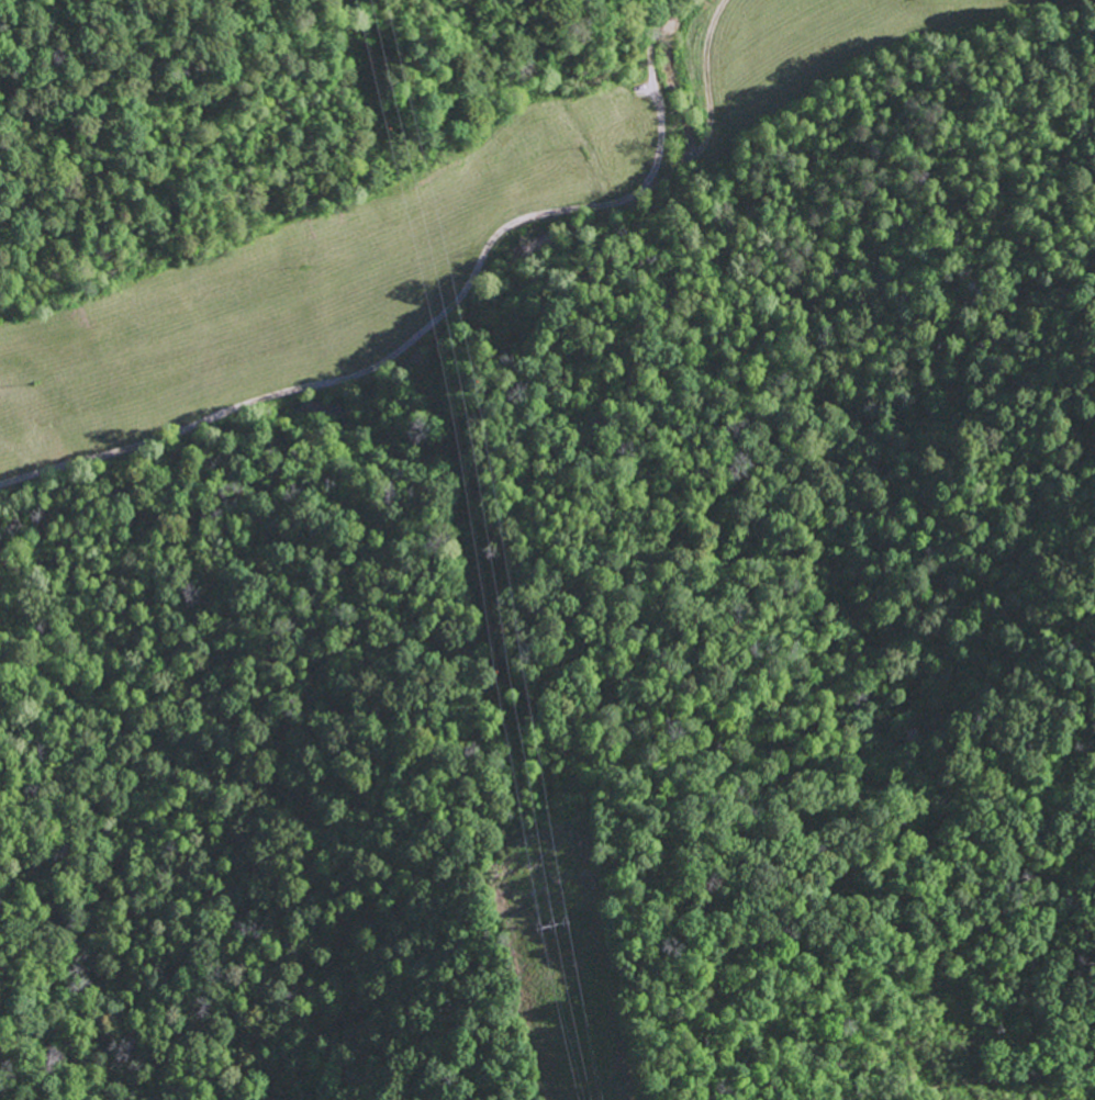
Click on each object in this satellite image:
road: (443, 313)

